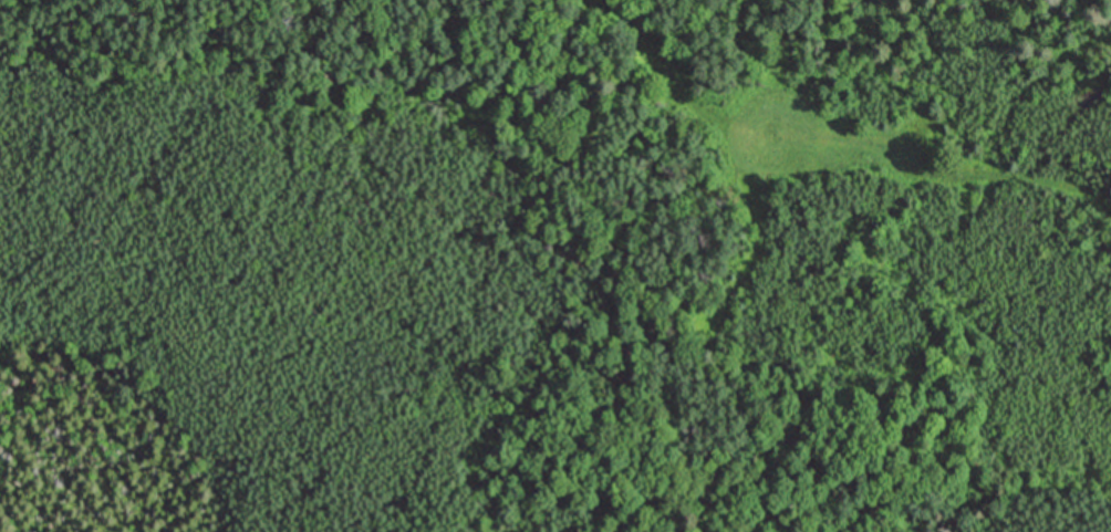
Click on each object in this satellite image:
road: (650, 46)

